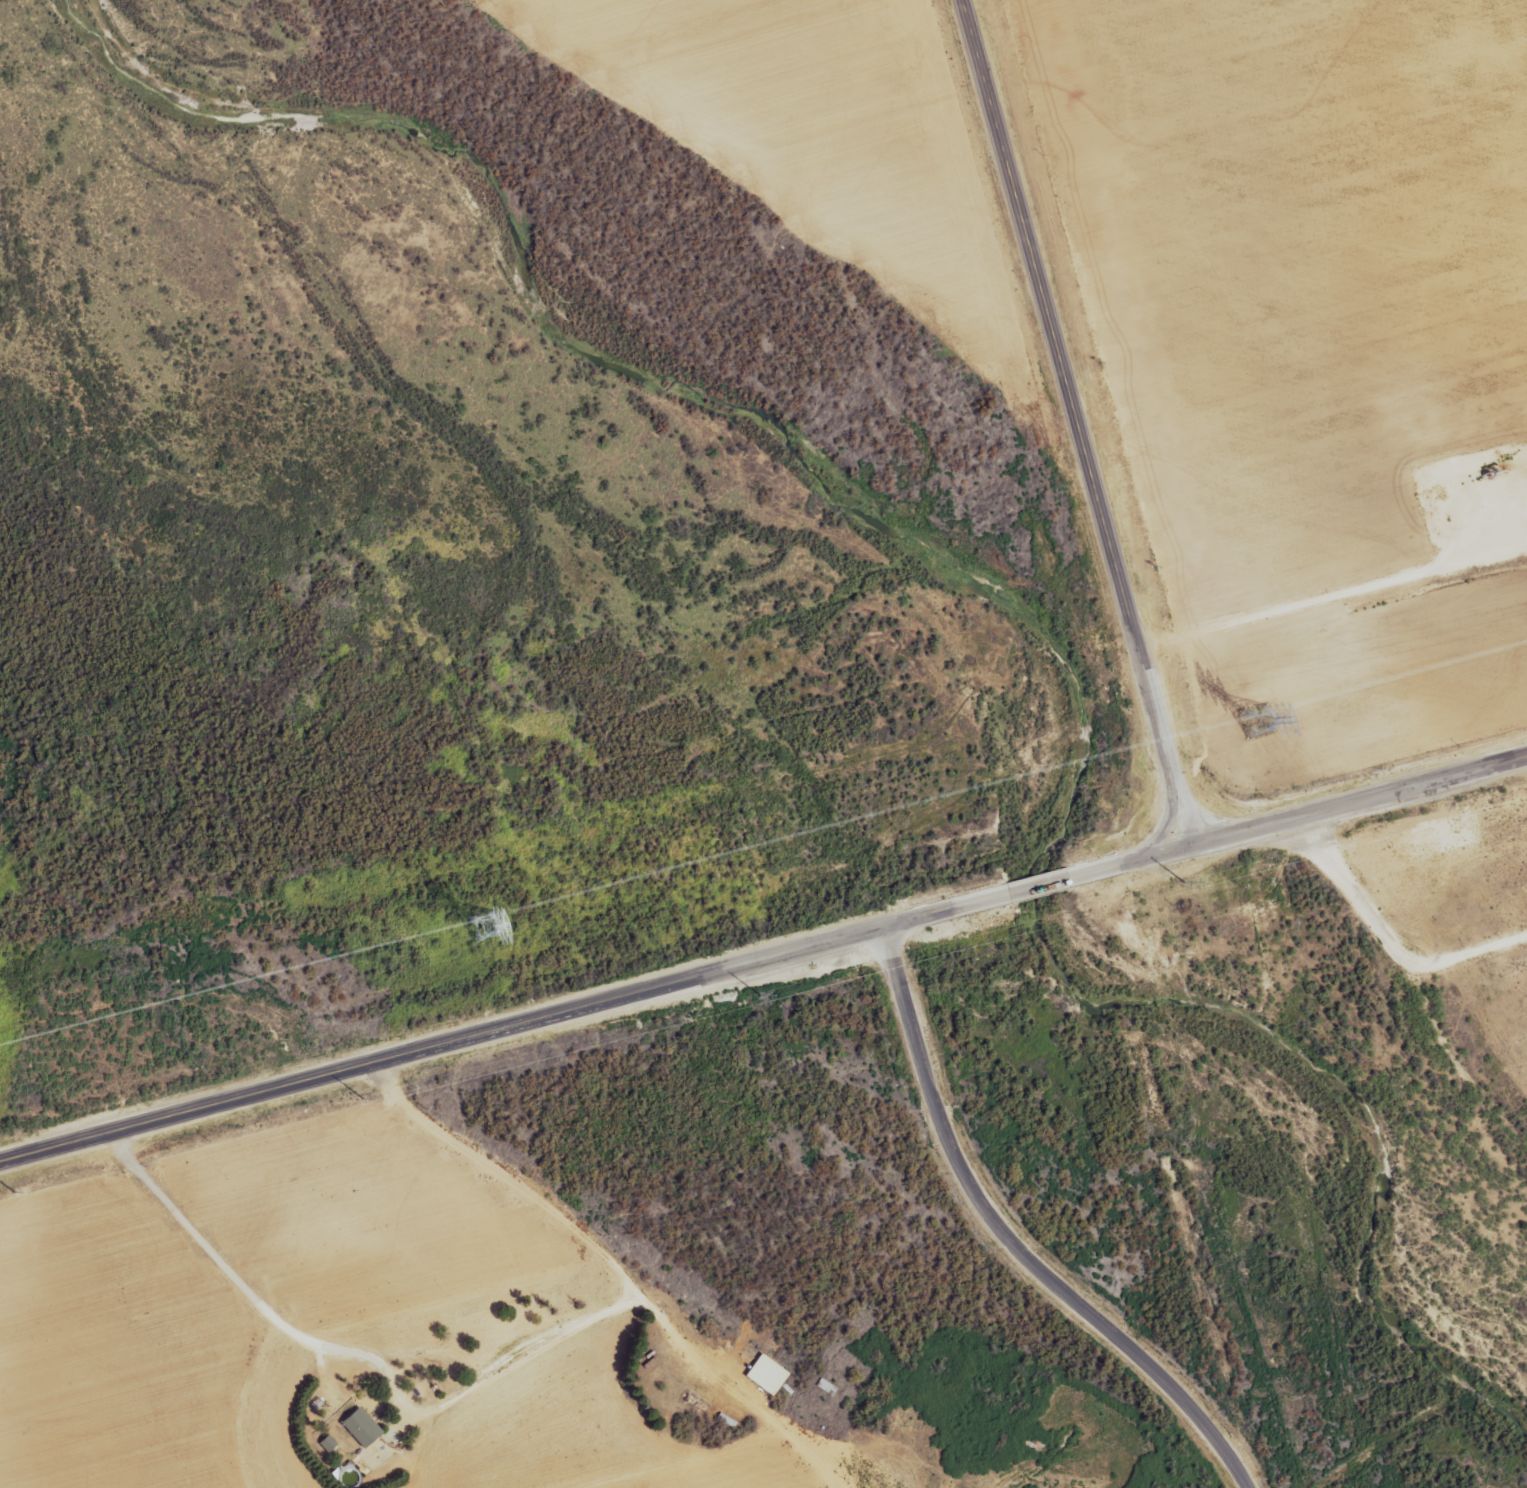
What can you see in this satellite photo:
road: (1079, 424)
river: (1003, 599)
power tower: (1256, 721)
road: (1300, 819)
power tower: (1173, 884)
road: (1042, 888)
power tower: (485, 922)
power tower: (776, 989)
road: (504, 1030)
power tower: (372, 1096)
power tower: (22, 1189)
road: (1011, 1246)
building: (771, 1375)
road: (491, 1379)
building: (827, 1387)
building: (361, 1427)
building: (1035, 1443)

